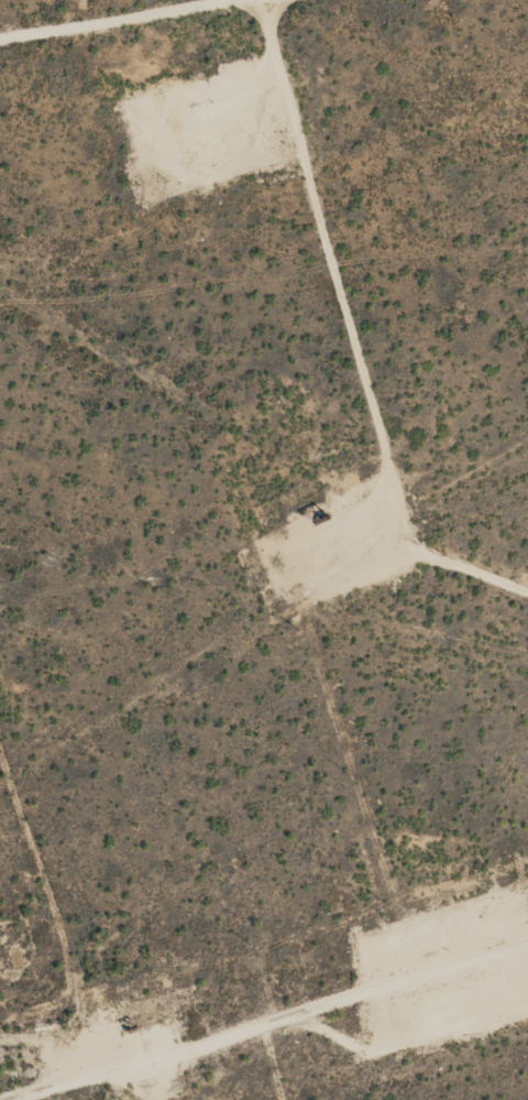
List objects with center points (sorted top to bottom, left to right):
road: (135, 23)
petroleum well: (322, 520)
road: (264, 1019)

